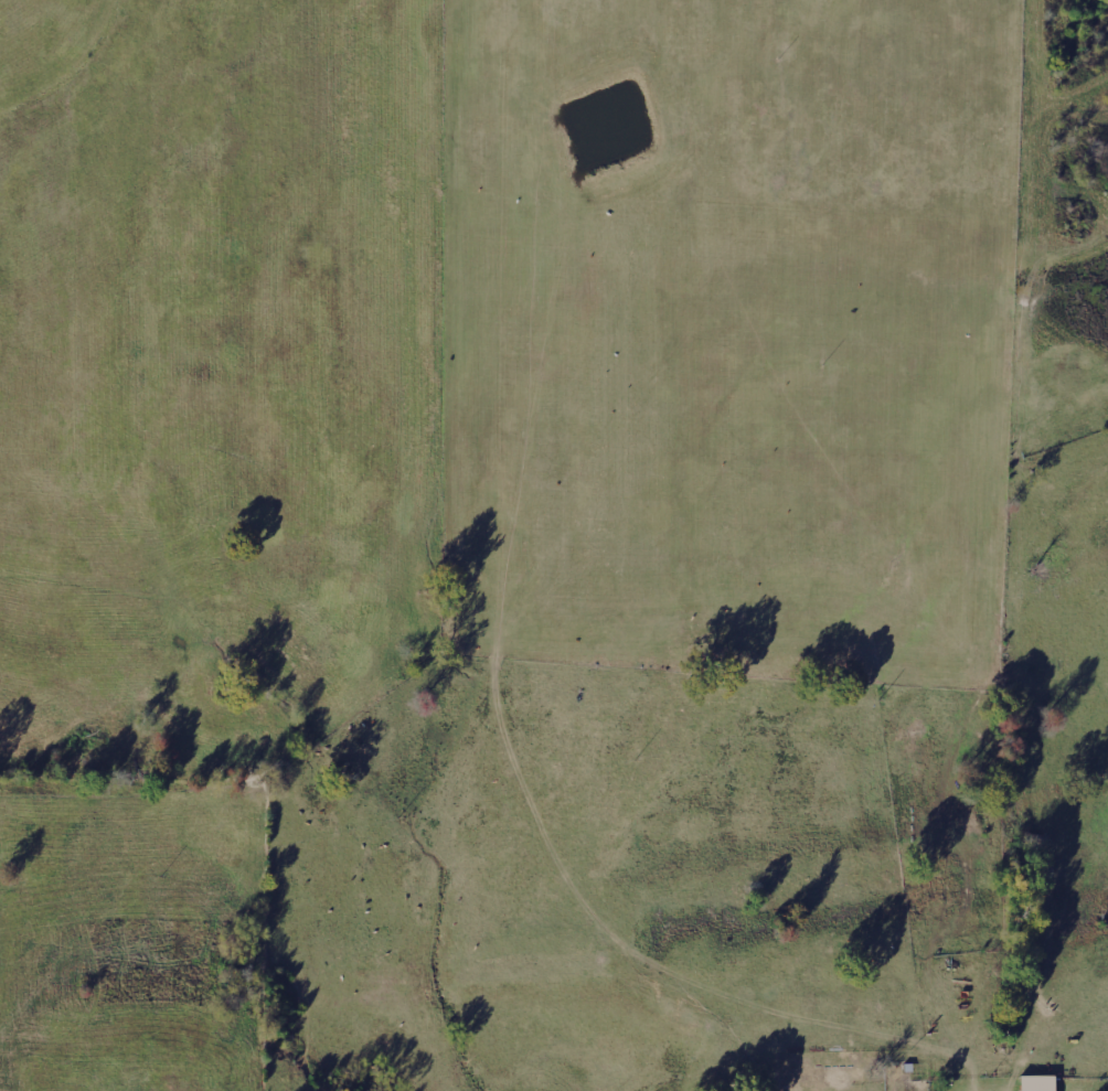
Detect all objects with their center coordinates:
building: (1038, 1082)

